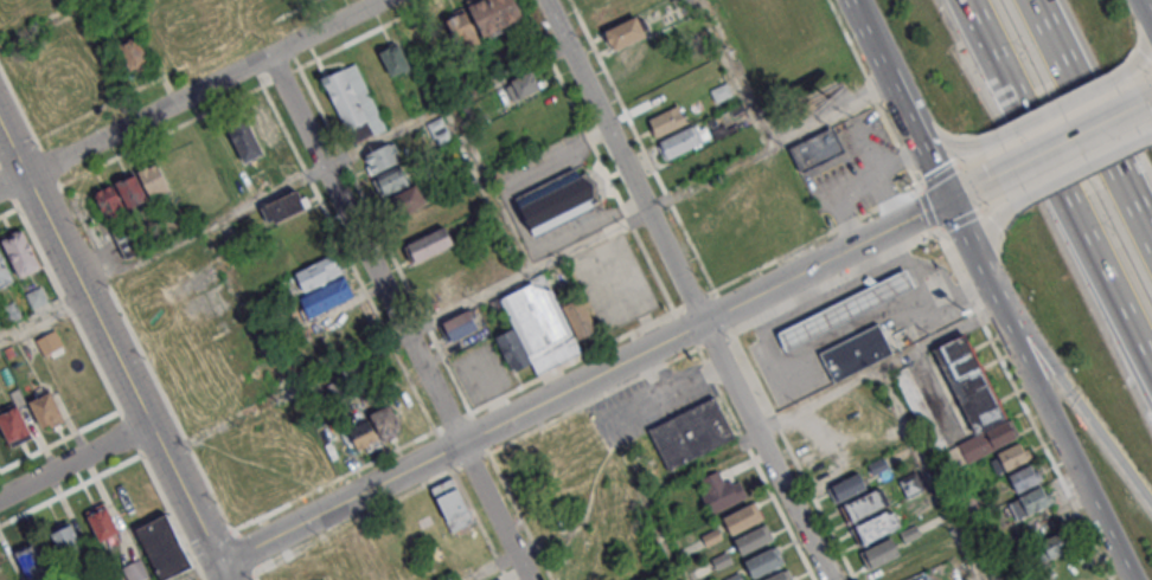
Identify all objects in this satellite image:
building: (274, 0)
road: (852, 4)
road: (1146, 11)
building: (493, 14)
road: (47, 24)
building: (461, 30)
building: (625, 33)
road: (1147, 43)
building: (133, 53)
building: (393, 59)
road: (736, 73)
building: (525, 83)
building: (719, 91)
road: (1004, 92)
road: (191, 95)
building: (344, 99)
road: (898, 99)
road: (1145, 99)
road: (1057, 105)
road: (20, 109)
building: (668, 120)
road: (1087, 120)
building: (261, 121)
building: (439, 129)
road: (940, 140)
building: (245, 141)
building: (681, 141)
road: (1062, 141)
building: (817, 150)
building: (383, 157)
parking lot: (542, 165)
road: (49, 167)
road: (324, 168)
parking lot: (855, 172)
road: (1074, 172)
building: (153, 179)
building: (390, 180)
road: (856, 180)
building: (132, 188)
road: (489, 188)
road: (966, 189)
building: (407, 199)
traffic signals: (948, 199)
building: (557, 200)
building: (110, 202)
building: (283, 206)
road: (7, 211)
building: (474, 223)
building: (128, 239)
building: (430, 243)
road: (987, 244)
road: (1148, 245)
building: (19, 252)
road: (529, 271)
building: (4, 272)
building: (316, 272)
parking lot: (613, 284)
road: (1101, 285)
road: (684, 290)
building: (36, 297)
building: (324, 301)
road: (66, 308)
building: (845, 309)
building: (9, 310)
road: (247, 310)
road: (397, 317)
building: (581, 317)
road: (41, 320)
building: (540, 324)
building: (460, 326)
building: (512, 349)
building: (8, 352)
building: (856, 353)
road: (113, 354)
road: (145, 361)
road: (582, 381)
building: (968, 382)
road: (670, 386)
road: (1035, 391)
parking lot: (646, 402)
road: (635, 405)
road: (1077, 406)
road: (802, 407)
building: (919, 408)
building: (46, 410)
building: (384, 415)
building: (13, 426)
road: (129, 432)
building: (687, 433)
building: (999, 433)
building: (364, 436)
road: (59, 440)
building: (340, 445)
building: (967, 451)
building: (1011, 456)
road: (72, 458)
building: (877, 465)
building: (1024, 478)
building: (911, 483)
building: (846, 488)
road: (70, 489)
building: (719, 492)
building: (1029, 502)
building: (450, 504)
building: (865, 504)
road: (172, 516)
building: (742, 518)
building: (102, 522)
building: (877, 527)
building: (909, 531)
road: (664, 536)
building: (711, 536)
building: (751, 539)
building: (65, 541)
building: (1056, 543)
building: (159, 546)
building: (879, 552)
road: (243, 554)
building: (722, 560)
building: (32, 561)
building: (763, 561)
road: (491, 567)
building: (135, 571)
crop: (6, 572)
road: (201, 572)
building: (1, 575)
road: (255, 576)
building: (734, 576)
building: (779, 576)
building: (966, 579)

